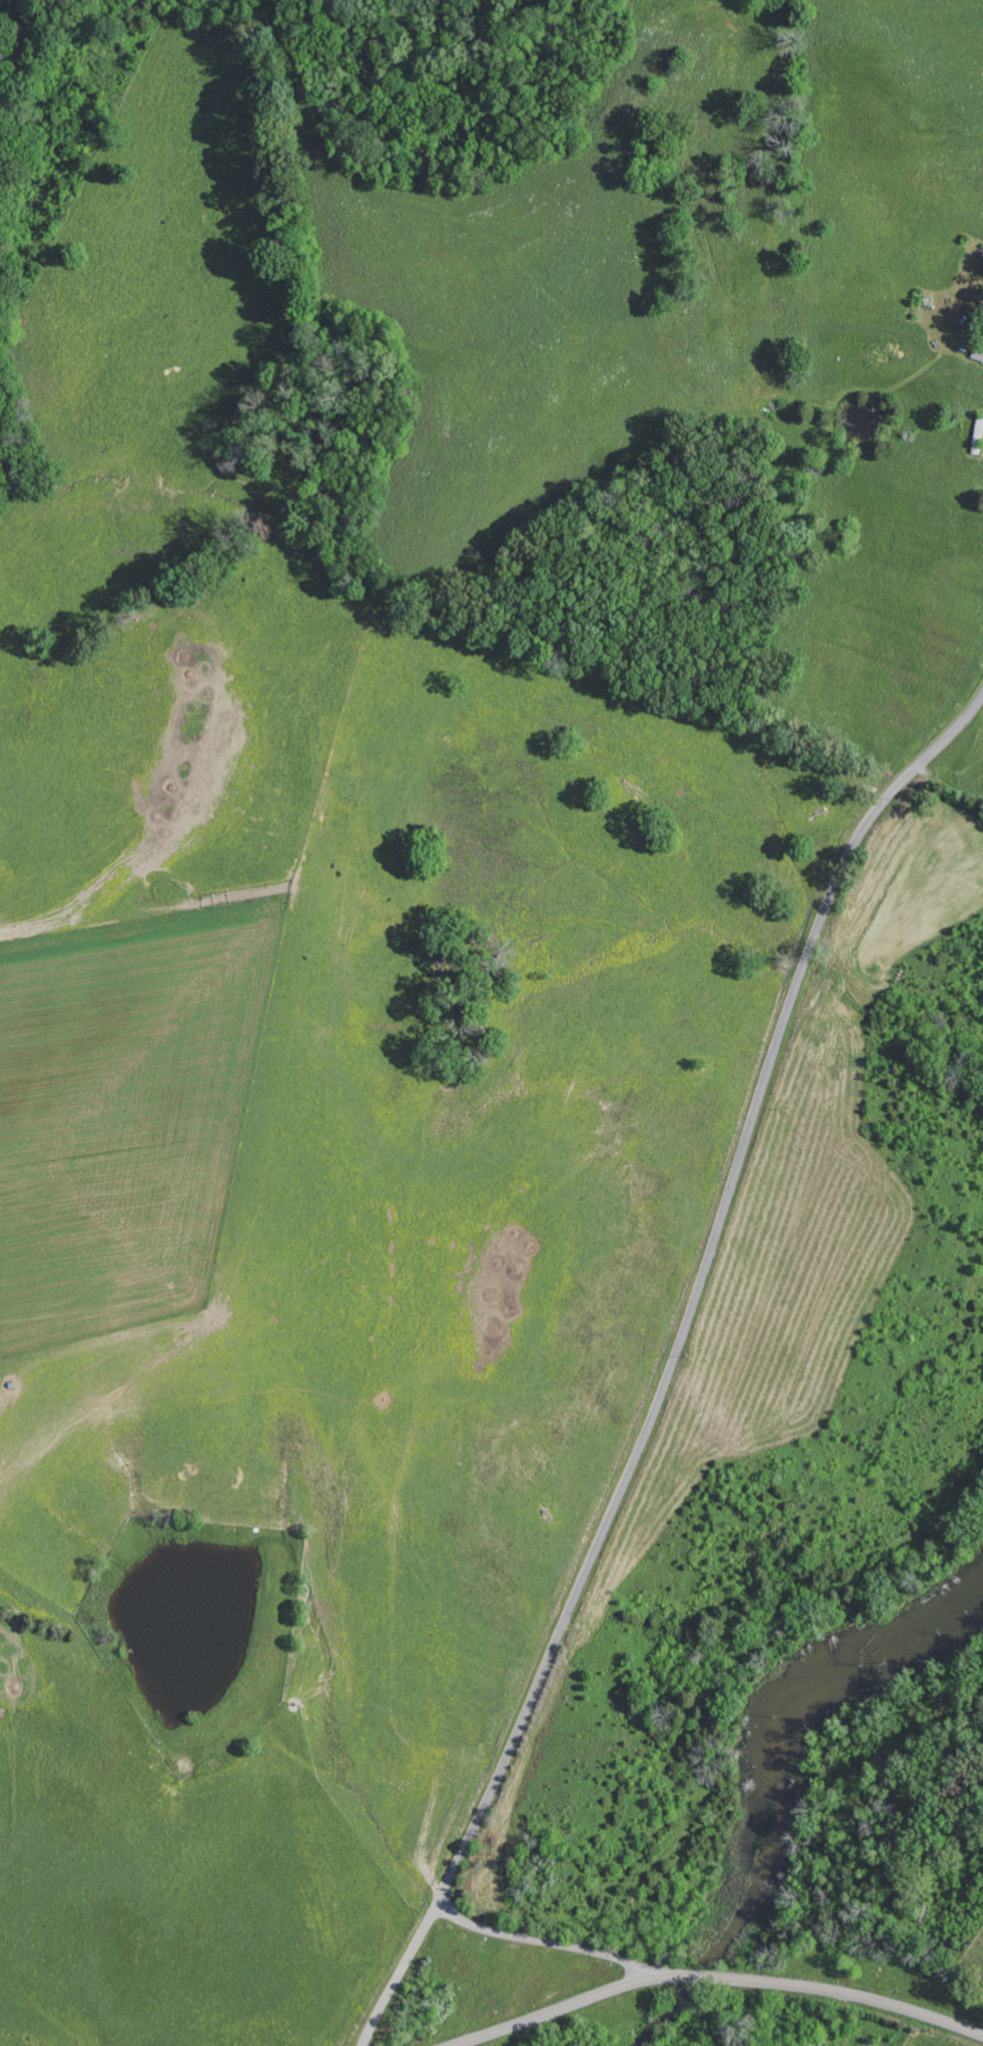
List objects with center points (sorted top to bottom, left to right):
road: (656, 1403)
road: (717, 1979)

